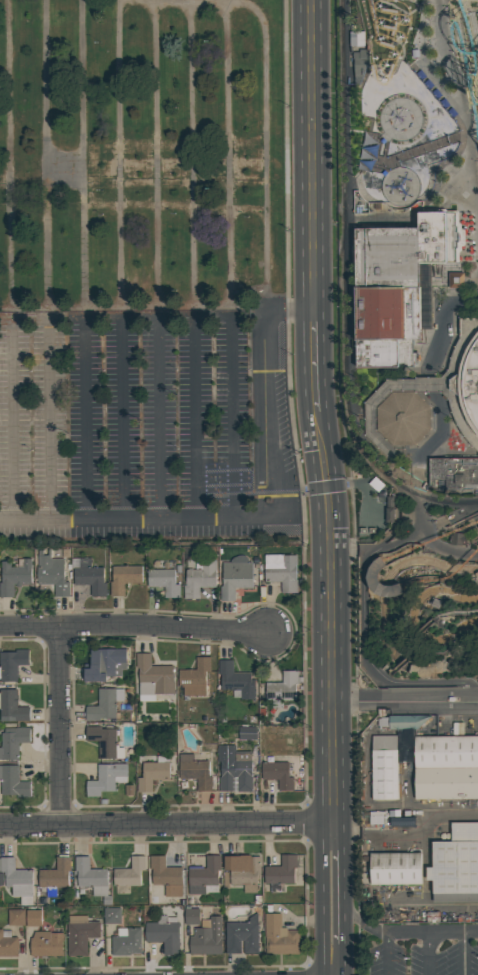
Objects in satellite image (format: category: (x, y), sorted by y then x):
building: (403, 0)
building: (357, 39)
street lamp: (208, 41)
street lamp: (101, 42)
building: (360, 65)
street lamp: (415, 74)
road: (82, 77)
street lamp: (423, 83)
street lamp: (430, 93)
street lamp: (438, 102)
road: (448, 102)
road: (440, 105)
road: (263, 106)
street lamp: (288, 106)
street lamp: (446, 112)
building: (401, 120)
street lamp: (454, 121)
street lamp: (461, 132)
building: (383, 141)
street lamp: (460, 146)
road: (229, 148)
road: (423, 150)
road: (10, 152)
road: (47, 153)
road: (119, 153)
street lamp: (454, 153)
road: (313, 154)
parking lot: (140, 155)
road: (156, 155)
road: (191, 156)
street lamp: (444, 160)
street lamp: (437, 171)
building: (385, 174)
building: (405, 174)
building: (398, 177)
building: (402, 178)
building: (406, 180)
building: (409, 180)
building: (403, 181)
building: (391, 183)
street lamp: (434, 183)
building: (392, 186)
building: (401, 187)
building: (393, 188)
street lamp: (209, 189)
building: (387, 189)
street lamp: (101, 190)
building: (392, 191)
building: (412, 191)
building: (405, 192)
building: (409, 193)
building: (392, 194)
street lamp: (430, 194)
building: (405, 196)
building: (402, 198)
building: (410, 198)
street lamp: (172, 212)
road: (338, 212)
street lamp: (247, 217)
road: (374, 217)
road: (83, 231)
street lamp: (289, 231)
building: (441, 237)
road: (469, 239)
road: (433, 266)
road: (435, 266)
road: (442, 274)
building: (456, 280)
road: (465, 285)
road: (440, 286)
road: (441, 287)
street lamp: (477, 288)
road: (342, 292)
road: (347, 293)
road: (276, 294)
railway: (343, 294)
street lamp: (463, 295)
building: (388, 296)
street lamp: (436, 296)
building: (426, 297)
road: (121, 307)
road: (290, 308)
street lamp: (453, 313)
road: (215, 314)
road: (442, 325)
road: (423, 331)
road: (443, 331)
road: (270, 346)
street lamp: (291, 356)
road: (312, 359)
road: (419, 360)
street lamp: (251, 365)
building: (371, 370)
road: (440, 371)
street lamp: (415, 373)
street lamp: (360, 375)
street lamp: (366, 380)
street lamp: (381, 380)
building: (464, 382)
road: (428, 386)
road: (428, 393)
road: (441, 393)
road: (424, 394)
road: (448, 399)
street lamp: (432, 406)
road: (257, 407)
road: (290, 411)
road: (196, 415)
road: (123, 416)
road: (158, 416)
road: (13, 417)
road: (51, 417)
road: (87, 417)
building: (404, 418)
building: (371, 422)
street lamp: (449, 425)
road: (458, 428)
parking lot: (147, 429)
theme park: (415, 437)
road: (436, 439)
road: (445, 445)
street lamp: (417, 448)
road: (276, 449)
building: (437, 449)
street lamp: (31, 451)
road: (432, 456)
road: (425, 459)
street lamp: (424, 461)
building: (454, 468)
building: (428, 474)
street lamp: (346, 478)
building: (376, 484)
road: (353, 485)
road: (376, 485)
road: (329, 487)
toll booth: (260, 489)
street lamp: (424, 489)
road: (304, 490)
road: (418, 490)
road: (398, 493)
road: (382, 497)
street lamp: (305, 498)
road: (418, 499)
road: (391, 500)
toll booth: (388, 501)
road: (398, 506)
road: (369, 508)
building: (391, 510)
road: (463, 513)
road: (270, 516)
toll booth: (388, 517)
road: (391, 517)
road: (406, 517)
road: (130, 518)
road: (451, 528)
road: (452, 530)
street lamp: (34, 531)
building: (371, 531)
building: (363, 532)
road: (392, 532)
road: (420, 532)
road: (432, 536)
street lamp: (251, 538)
road: (475, 538)
building: (459, 539)
street lamp: (105, 540)
street lamp: (178, 540)
road: (434, 543)
road: (347, 556)
fountain: (416, 570)
building: (281, 571)
fountain: (411, 572)
fountain: (406, 573)
building: (52, 574)
building: (430, 574)
building: (14, 576)
building: (89, 576)
building: (235, 577)
building: (374, 578)
building: (124, 579)
building: (200, 579)
building: (164, 582)
building: (436, 603)
road: (453, 612)
road: (330, 614)
road: (132, 626)
road: (421, 630)
road: (279, 631)
road: (300, 631)
street lamp: (309, 634)
road: (444, 653)
road: (414, 655)
road: (365, 659)
building: (12, 664)
building: (105, 664)
building: (429, 669)
road: (381, 673)
building: (195, 677)
building: (153, 678)
building: (237, 681)
building: (282, 688)
road: (449, 693)
road: (355, 699)
building: (450, 700)
road: (378, 702)
road: (476, 702)
building: (104, 705)
road: (450, 706)
building: (11, 707)
street lamp: (412, 712)
road: (59, 726)
building: (248, 733)
building: (404, 734)
building: (13, 742)
building: (105, 742)
building: (385, 768)
building: (447, 768)
building: (234, 769)
building: (195, 771)
building: (153, 773)
building: (278, 774)
building: (106, 779)
building: (13, 782)
building: (377, 818)
road: (166, 824)
road: (414, 844)
building: (456, 862)
building: (396, 869)
building: (243, 871)
building: (281, 873)
building: (128, 875)
building: (55, 876)
building: (166, 876)
building: (205, 876)
building: (91, 877)
building: (17, 880)
road: (342, 896)
road: (322, 897)
building: (106, 900)
building: (112, 916)
building: (16, 917)
building: (192, 917)
building: (33, 918)
road: (361, 926)
building: (80, 934)
building: (164, 934)
road: (408, 935)
road: (452, 935)
building: (242, 936)
building: (279, 936)
building: (207, 937)
building: (126, 941)
building: (47, 944)
building: (8, 946)
parking lot: (427, 950)
road: (467, 954)
road: (390, 955)
road: (427, 955)

